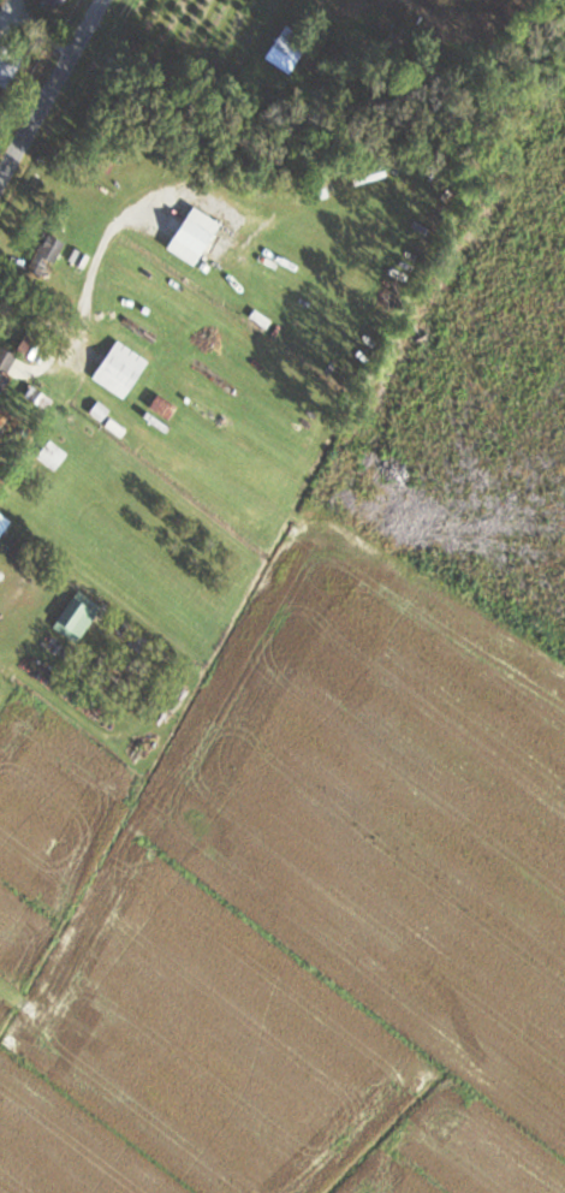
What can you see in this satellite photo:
building: (48, 1)
building: (7, 61)
road: (50, 90)
building: (190, 235)
building: (43, 256)
building: (118, 368)
building: (48, 452)
building: (75, 616)

